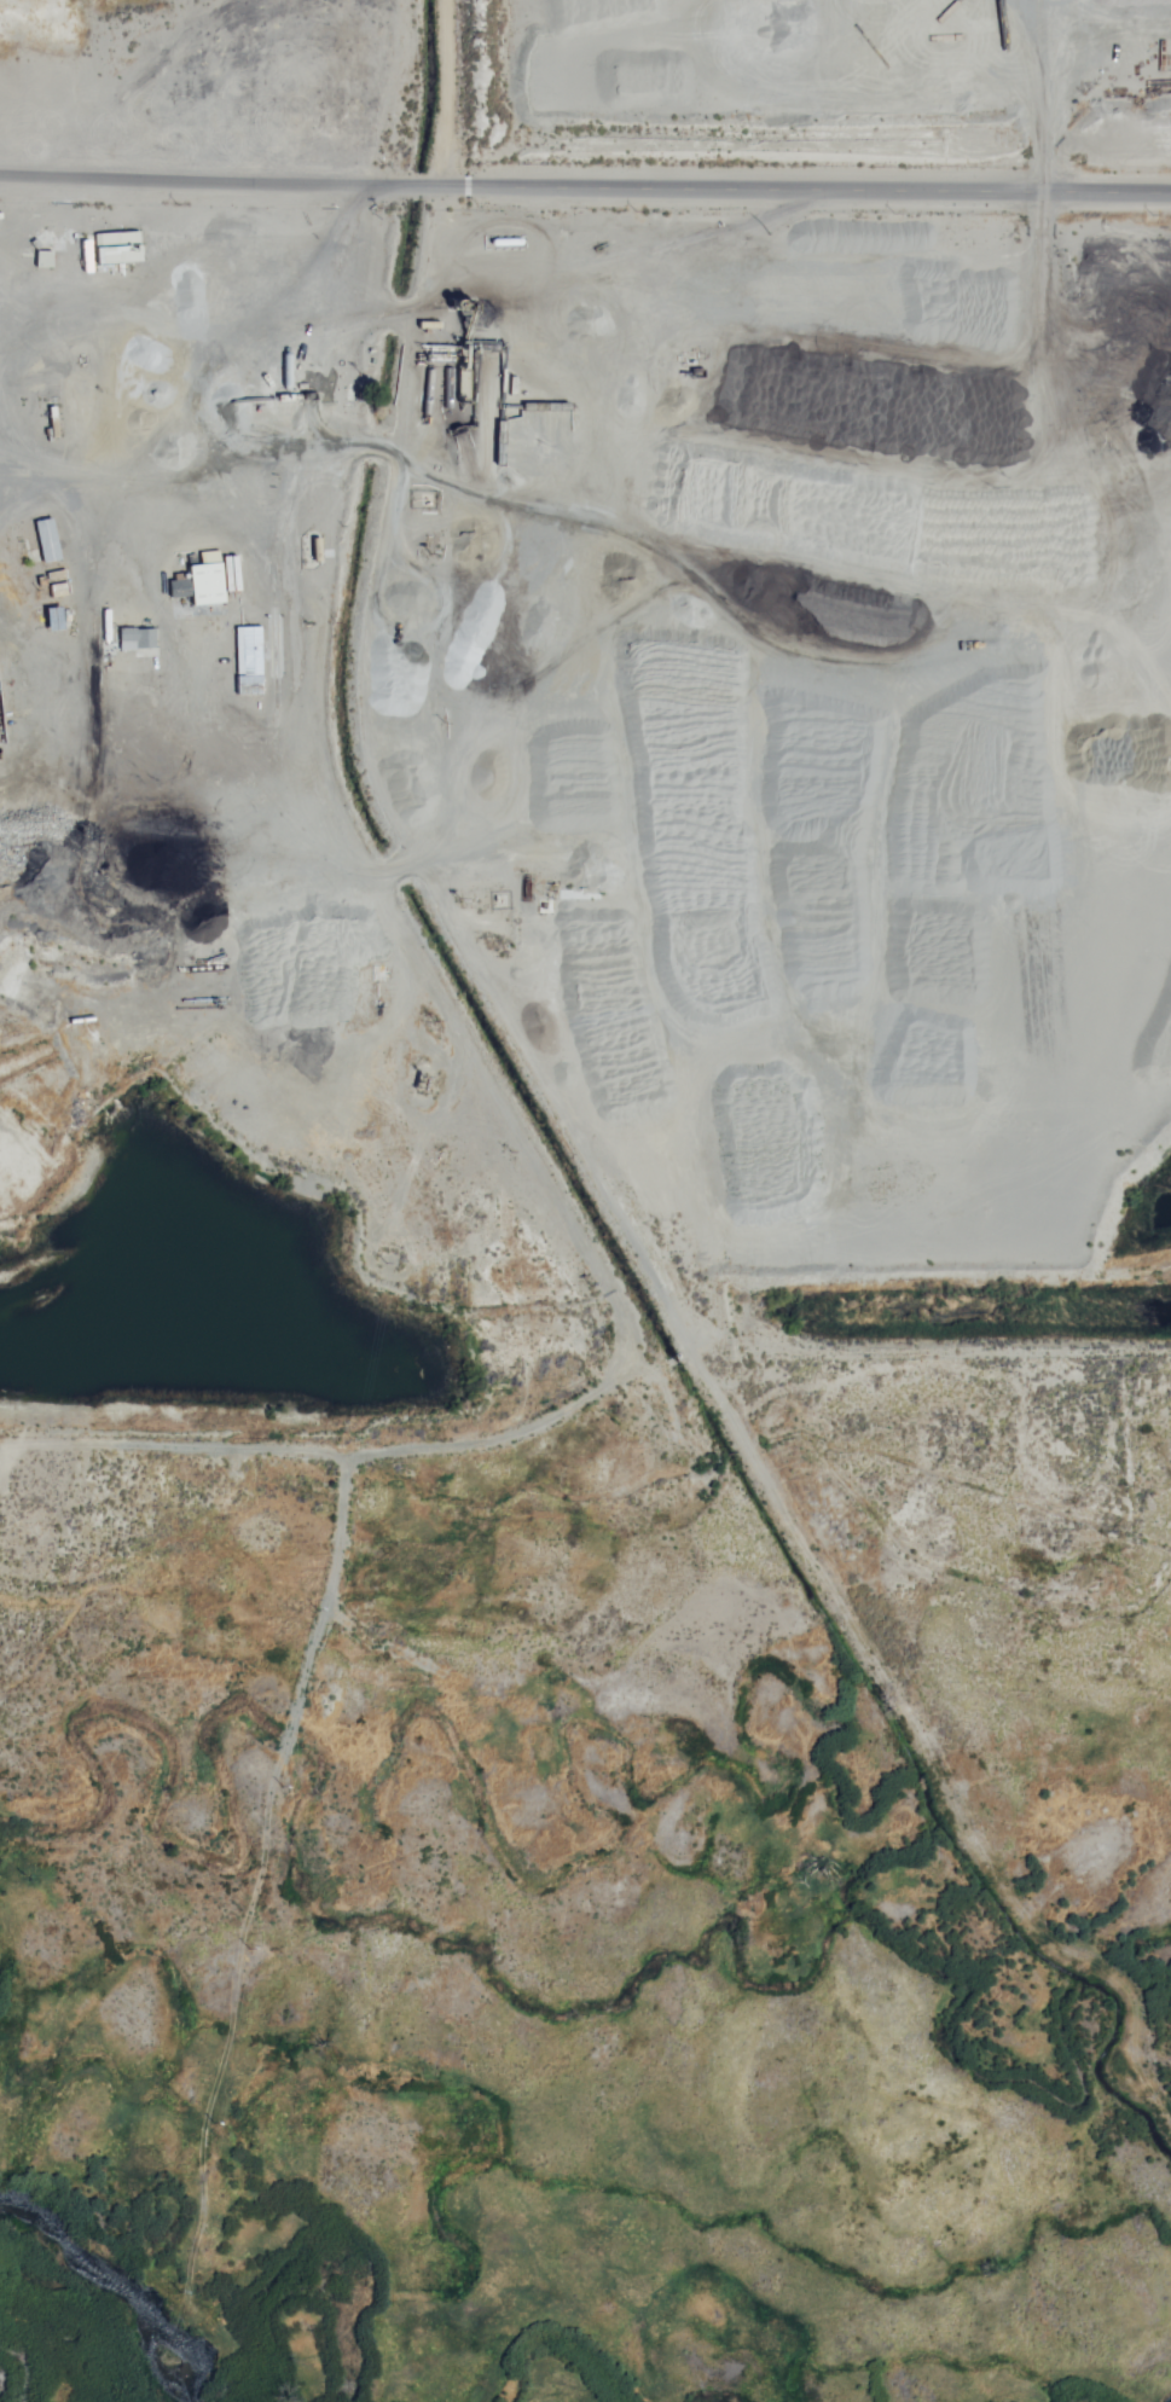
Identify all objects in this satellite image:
road: (441, 91)
road: (585, 184)
building: (117, 248)
building: (46, 539)
building: (135, 638)
building: (247, 656)
river: (98, 2296)
river: (168, 2401)

